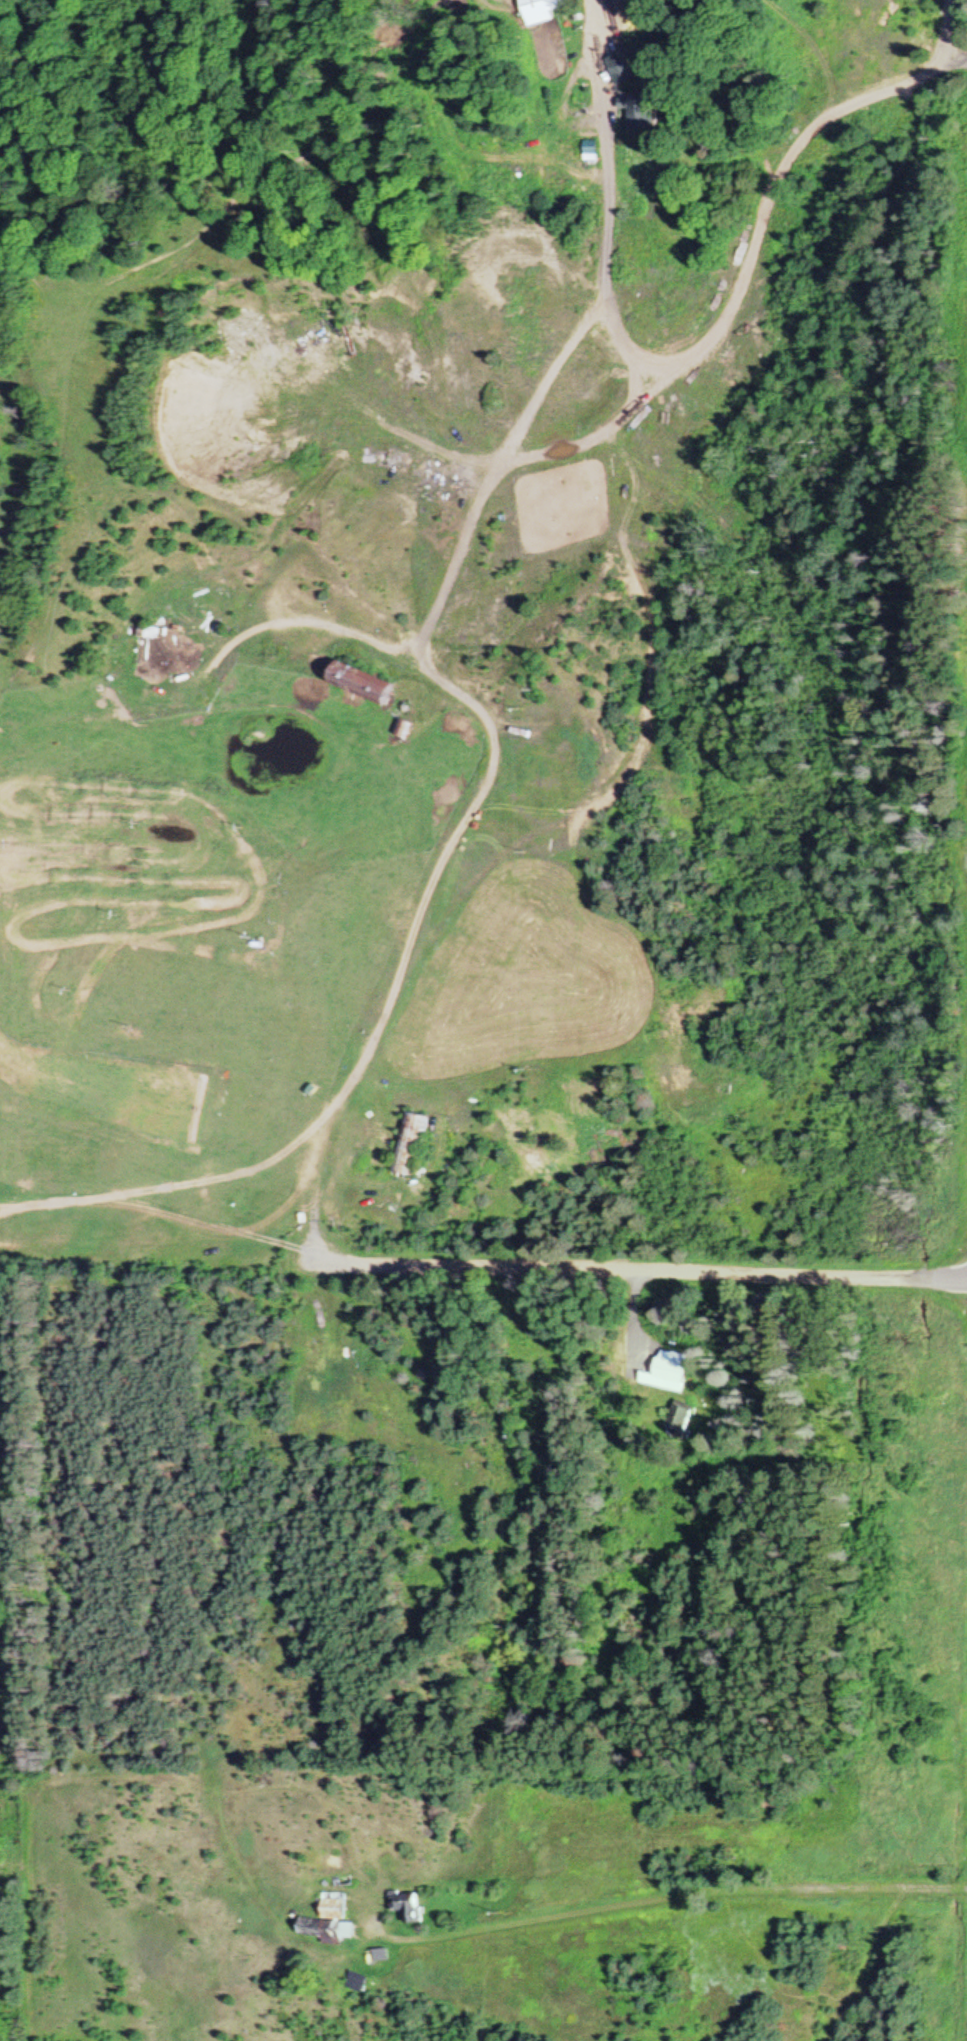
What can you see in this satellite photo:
building: (541, 7)
building: (617, 69)
building: (639, 113)
building: (586, 152)
building: (136, 651)
building: (355, 683)
building: (451, 723)
building: (408, 1144)
road: (640, 1272)
building: (664, 1372)
building: (676, 1418)
road: (670, 1899)
building: (399, 1906)
building: (323, 1921)
building: (349, 1982)

